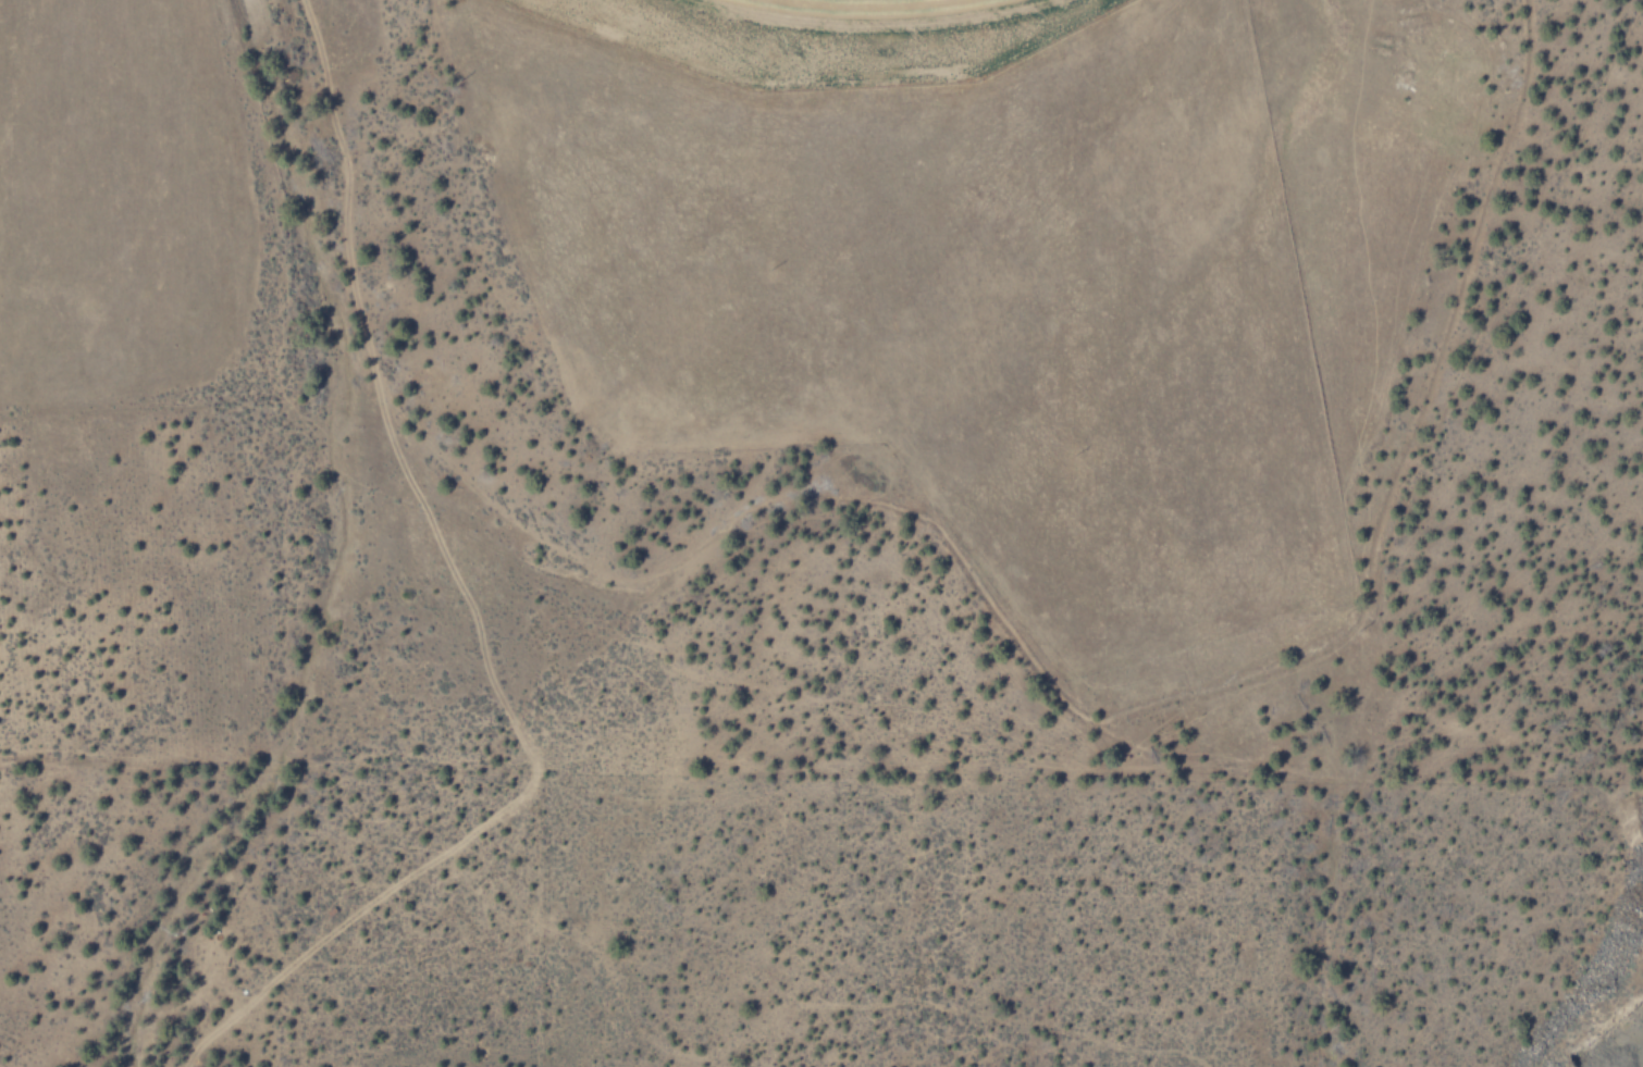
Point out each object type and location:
quarry: (1593, 976)

